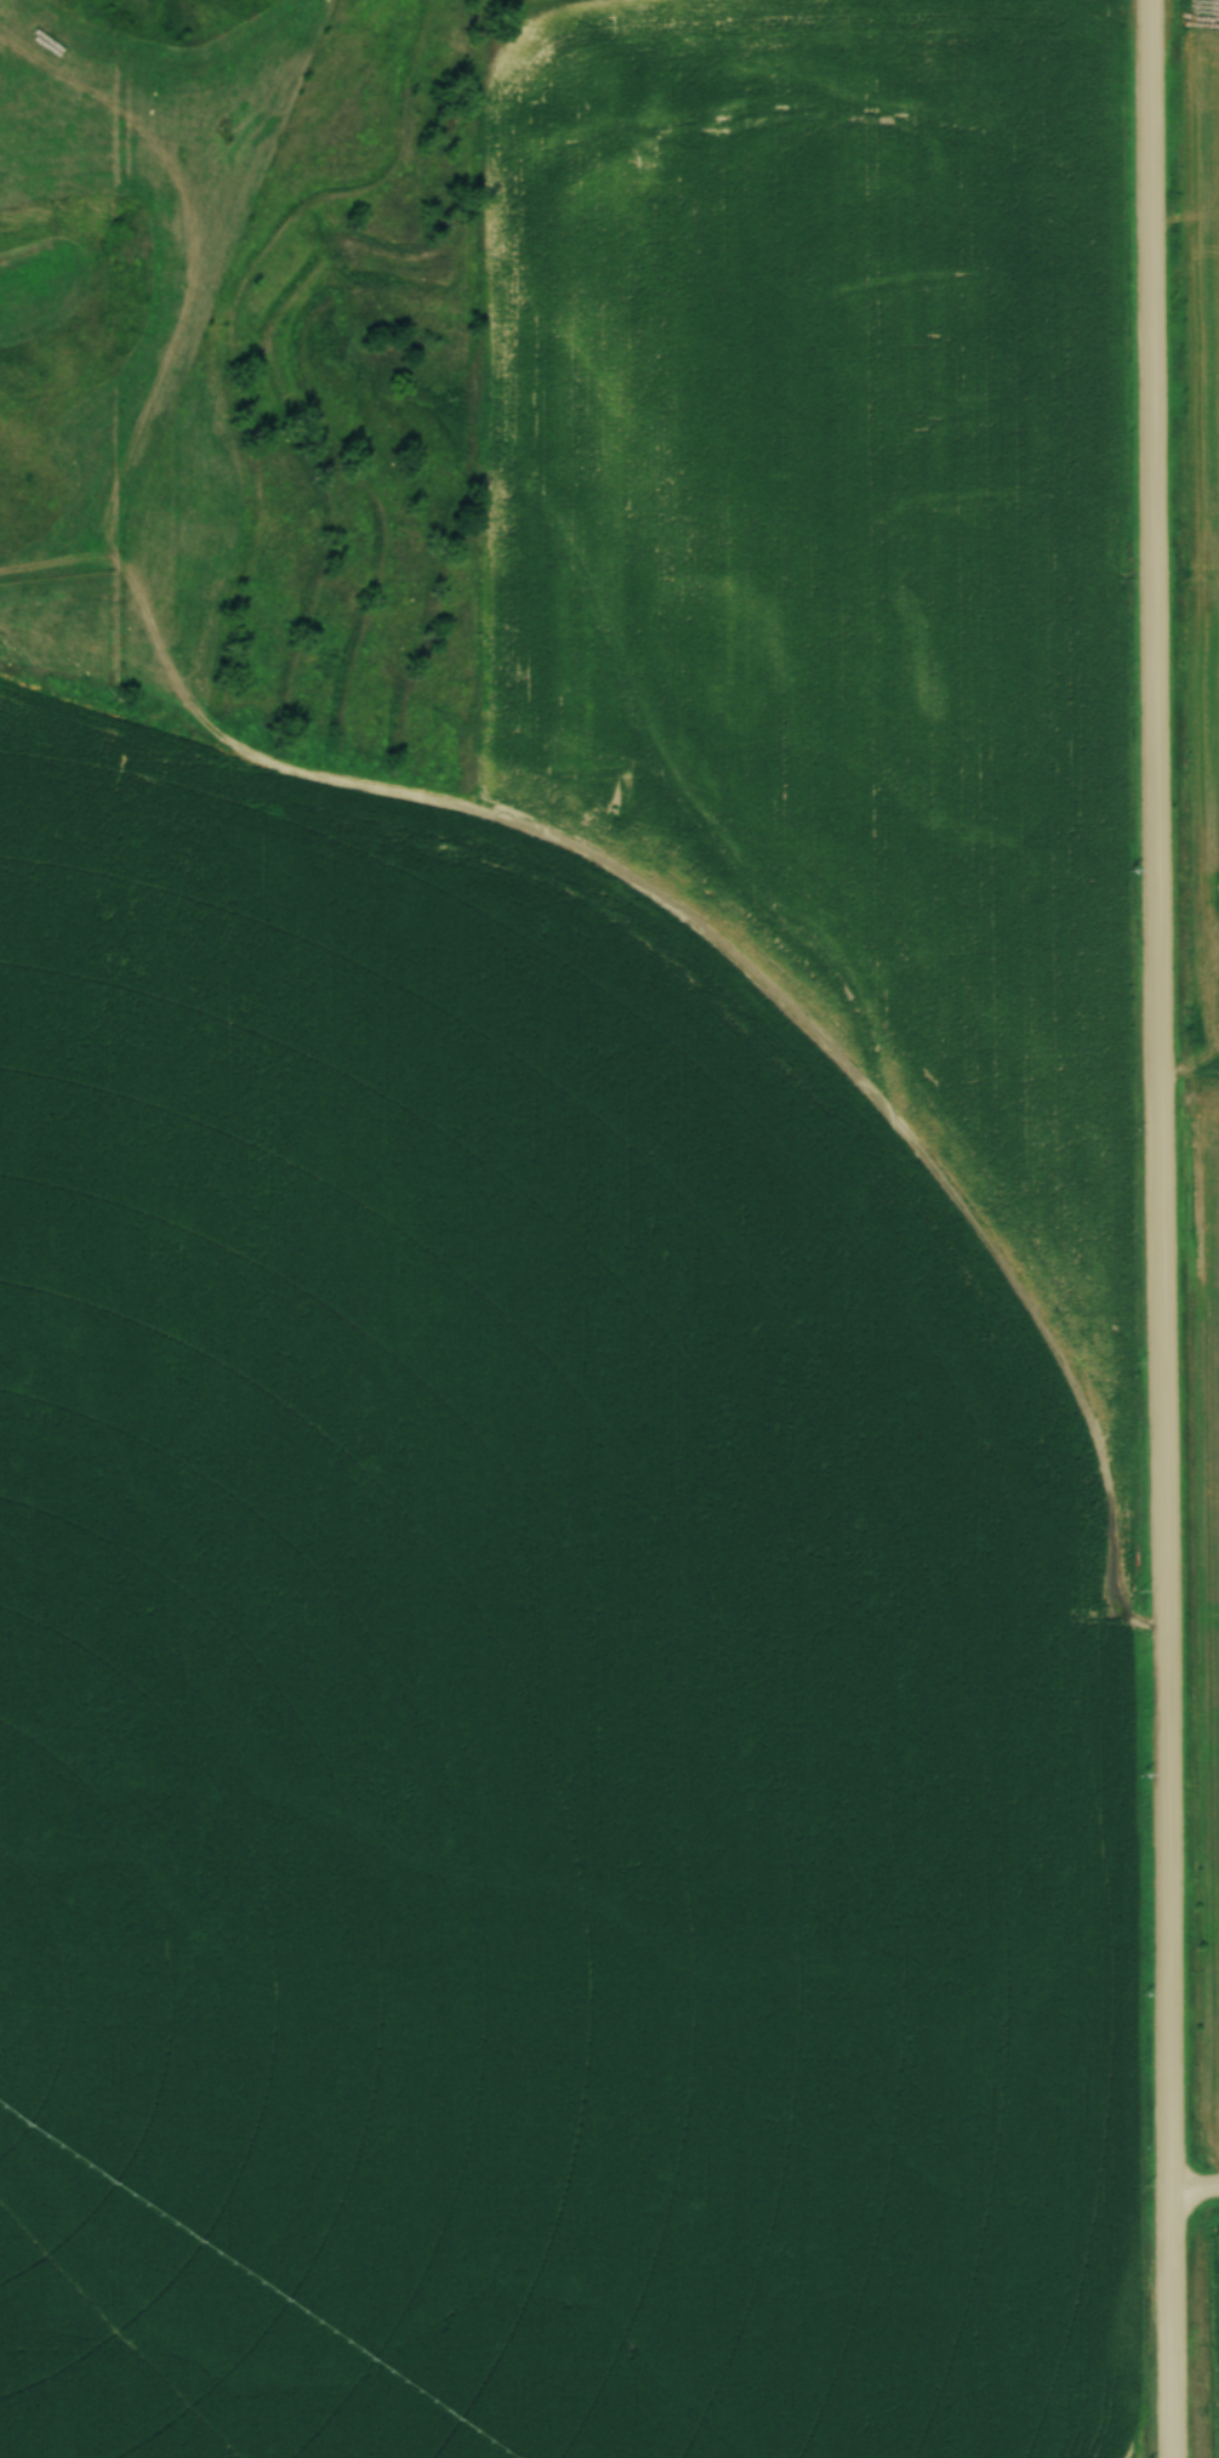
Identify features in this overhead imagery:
road: (1161, 1228)
road: (1194, 2186)

